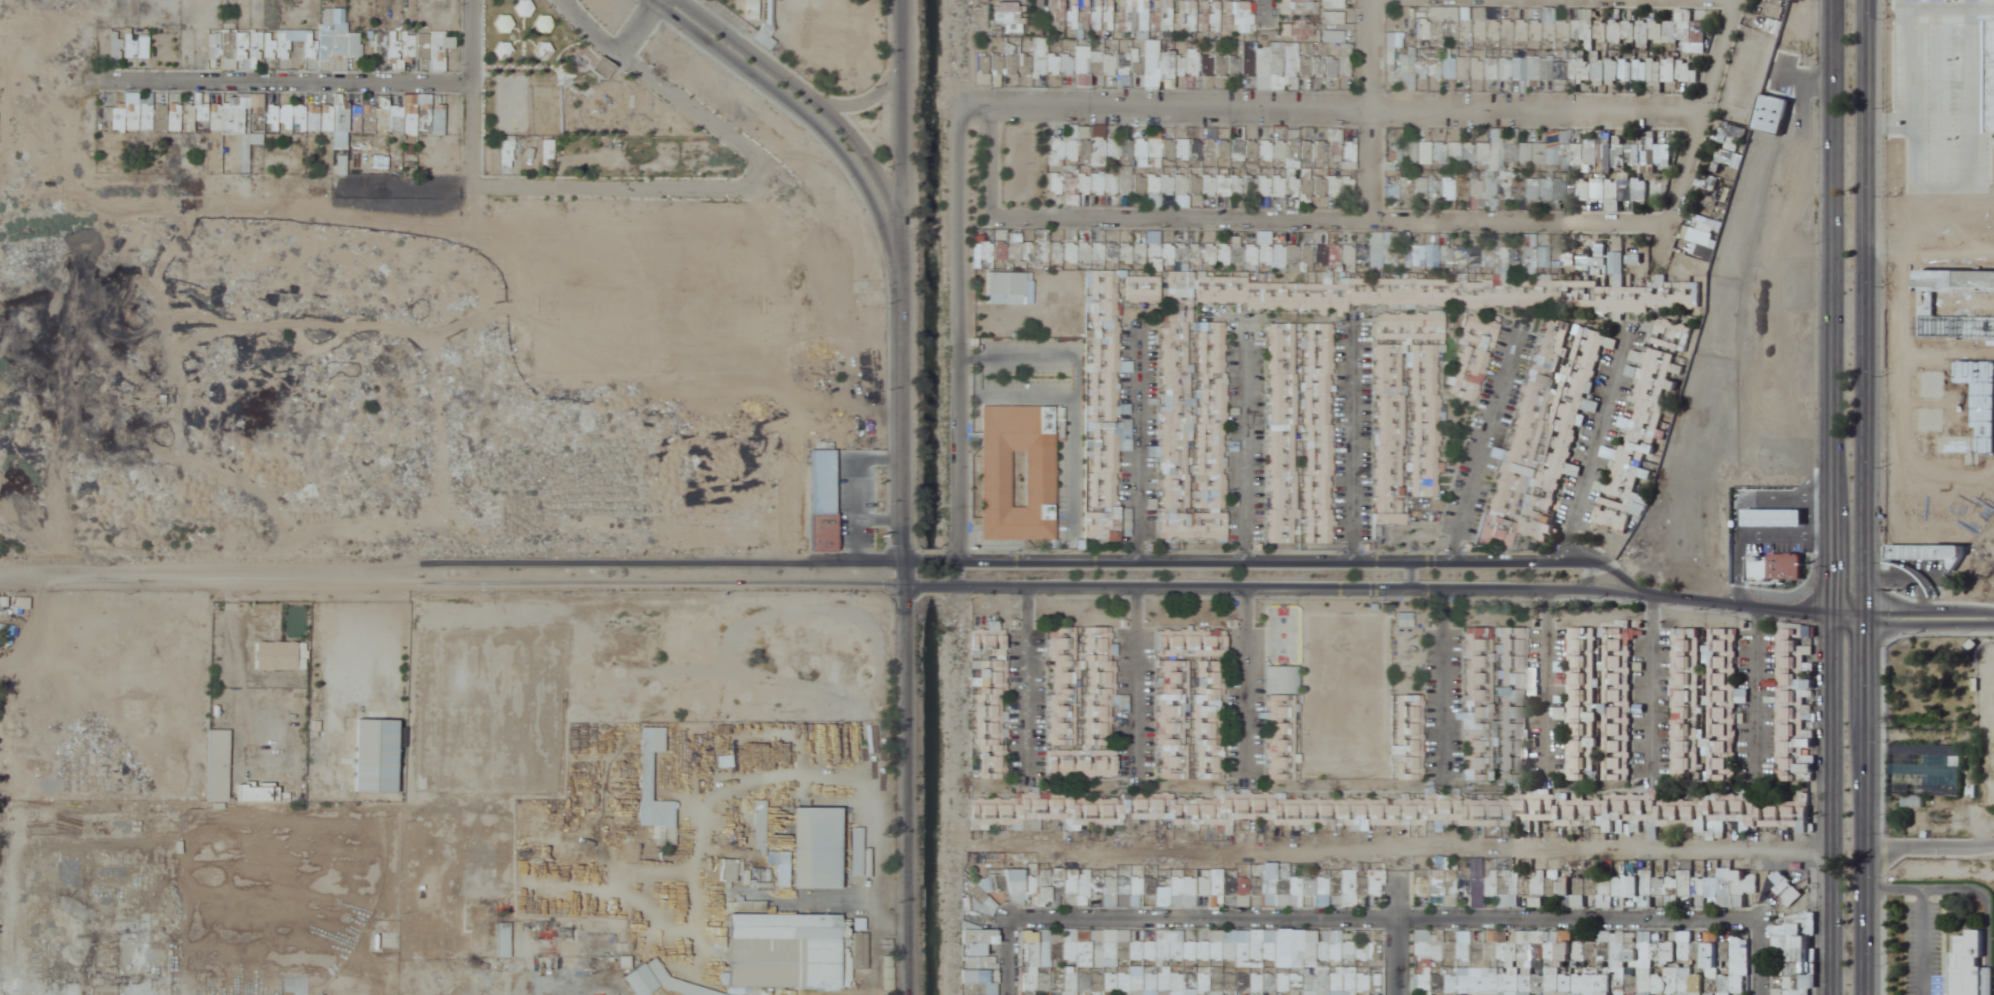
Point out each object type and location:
gas station: (1775, 518)

